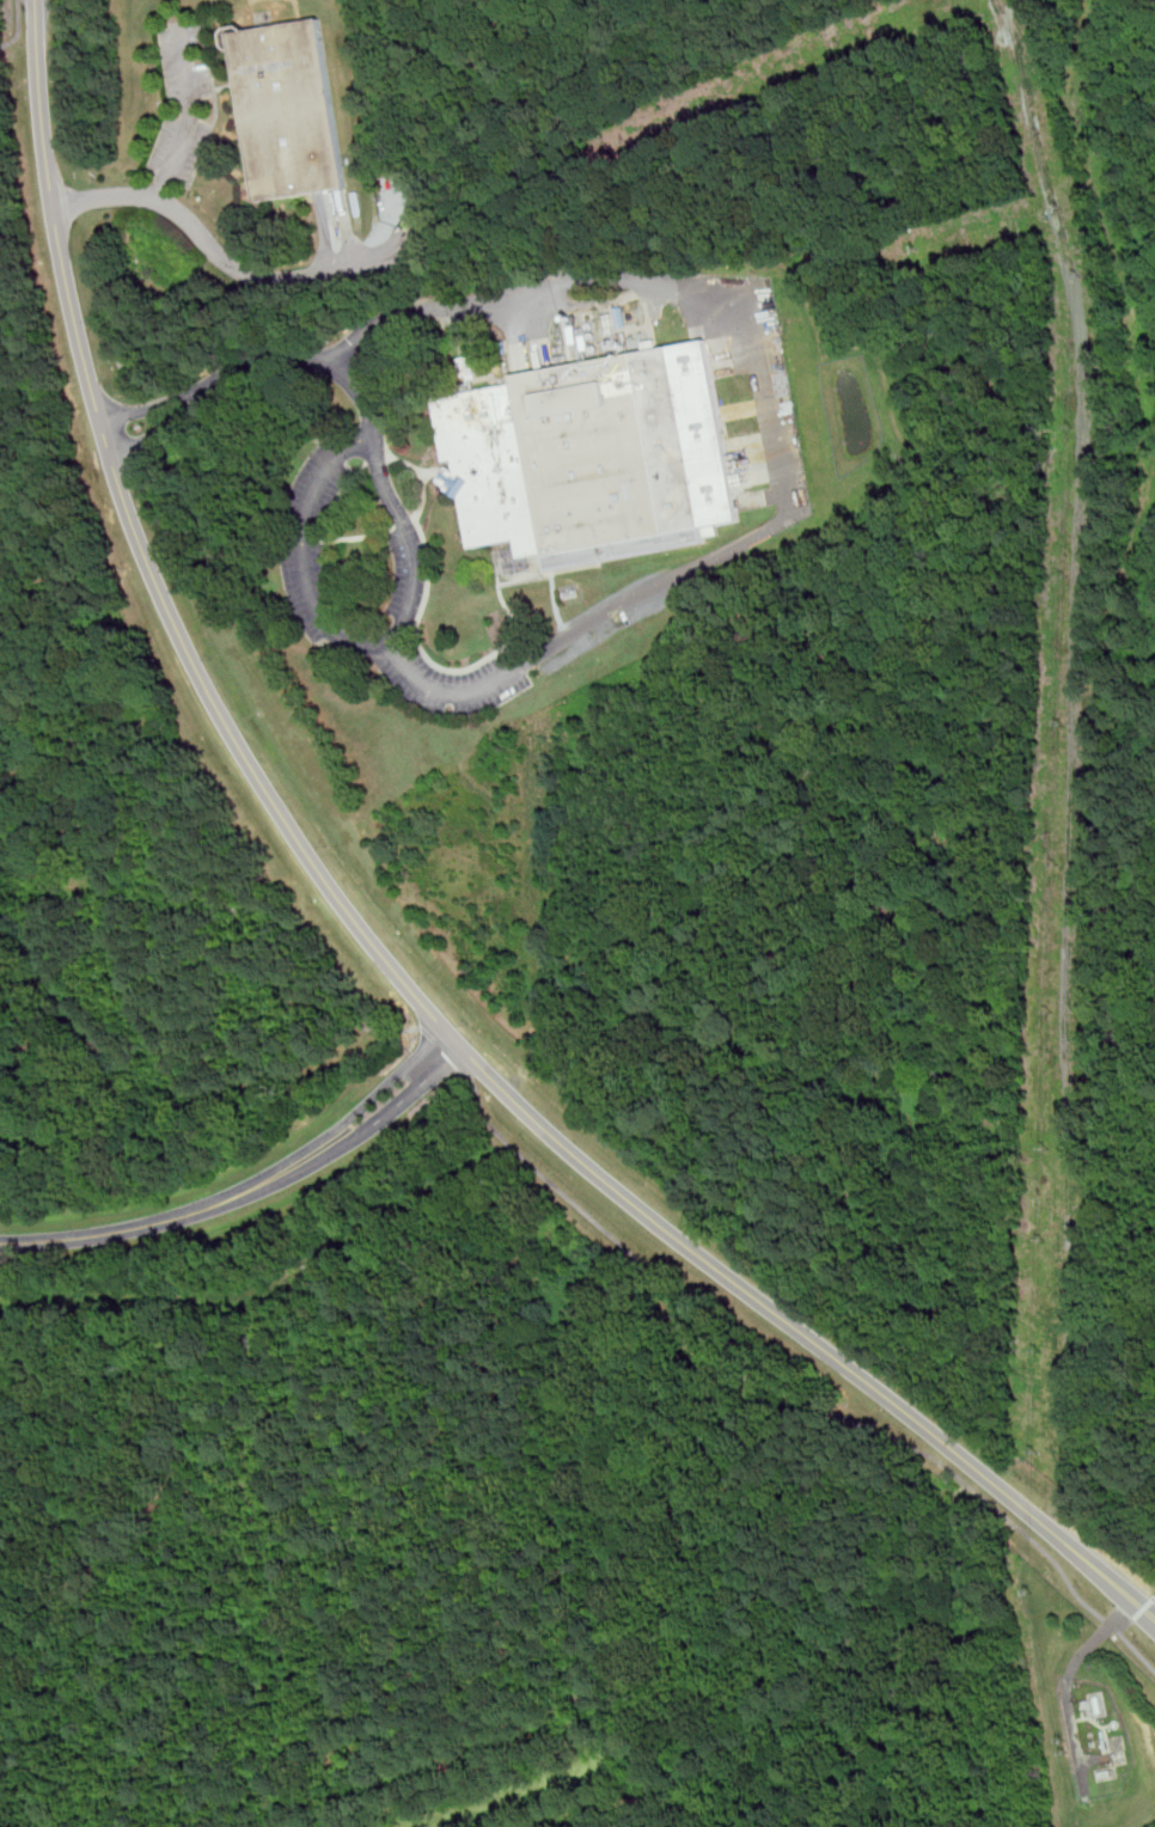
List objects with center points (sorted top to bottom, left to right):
road: (19, 29)
road: (228, 86)
road: (218, 106)
building: (293, 111)
road: (190, 116)
road: (336, 233)
road: (234, 265)
road: (519, 328)
building: (471, 366)
road: (35, 387)
road: (161, 404)
road: (169, 424)
road: (776, 426)
building: (598, 456)
road: (378, 458)
road: (439, 472)
road: (404, 521)
road: (330, 526)
road: (355, 537)
road: (310, 540)
road: (412, 585)
road: (441, 668)
road: (148, 867)
road: (377, 949)
road: (346, 1038)
road: (446, 1051)
road: (377, 1094)
road: (390, 1112)
road: (159, 1221)
road: (792, 1392)
road: (1154, 1596)
road: (1142, 1607)
road: (1125, 1624)
road: (1068, 1682)

